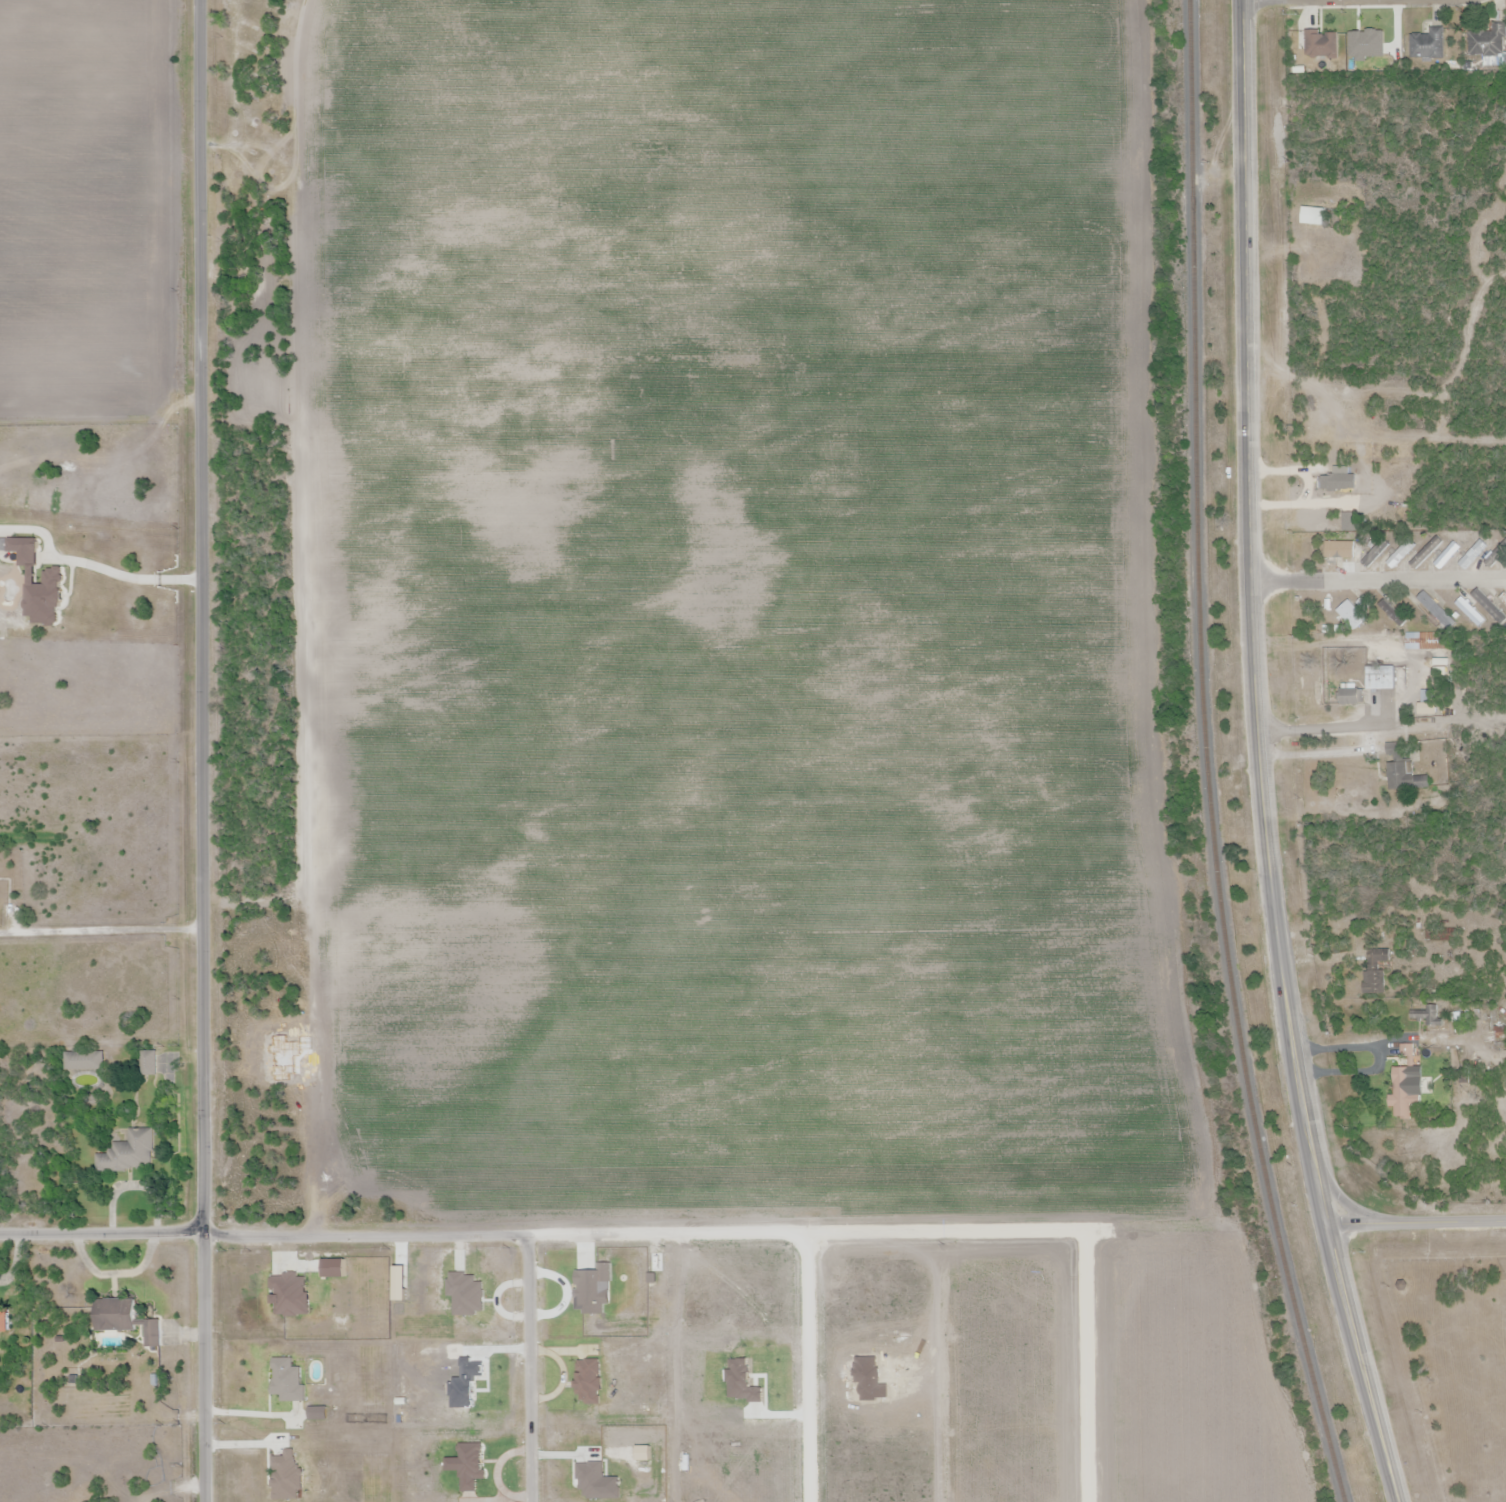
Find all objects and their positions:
road: (1297, 1)
building: (1485, 42)
building: (1369, 45)
building: (1320, 46)
building: (1425, 47)
building: (1313, 216)
building: (1334, 480)
building: (1339, 548)
building: (1426, 554)
building: (1376, 555)
building: (1400, 555)
building: (1472, 555)
building: (1449, 556)
building: (1494, 556)
building: (1503, 601)
building: (1487, 609)
building: (1433, 610)
building: (1392, 613)
building: (1468, 613)
building: (1351, 616)
building: (1380, 680)
building: (1350, 696)
road: (202, 751)
road: (1263, 757)
railway: (1205, 758)
building: (1403, 773)
building: (1376, 975)
building: (1427, 1016)
road: (1358, 1048)
building: (85, 1061)
building: (147, 1062)
road: (1349, 1071)
building: (1406, 1096)
building: (127, 1152)
road: (1417, 1225)
road: (782, 1232)
road: (103, 1233)
park: (1499, 1299)
building: (124, 1319)
building: (4, 1321)
park: (1450, 1364)
road: (528, 1367)
road: (807, 1367)

